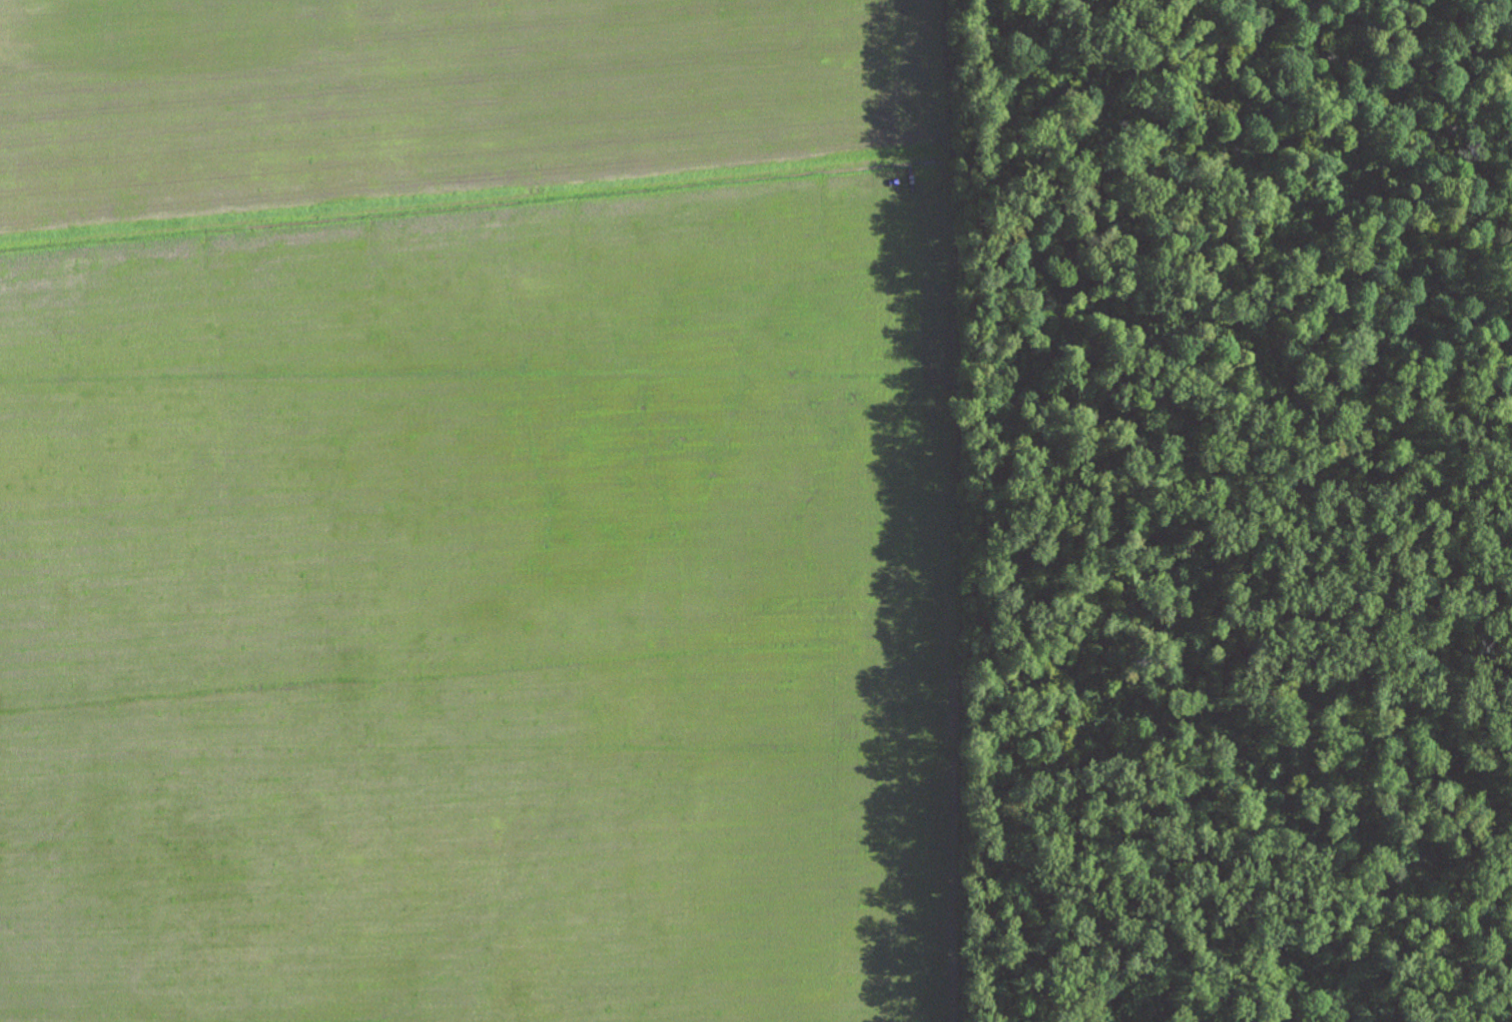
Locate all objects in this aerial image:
park: (1239, 511)

